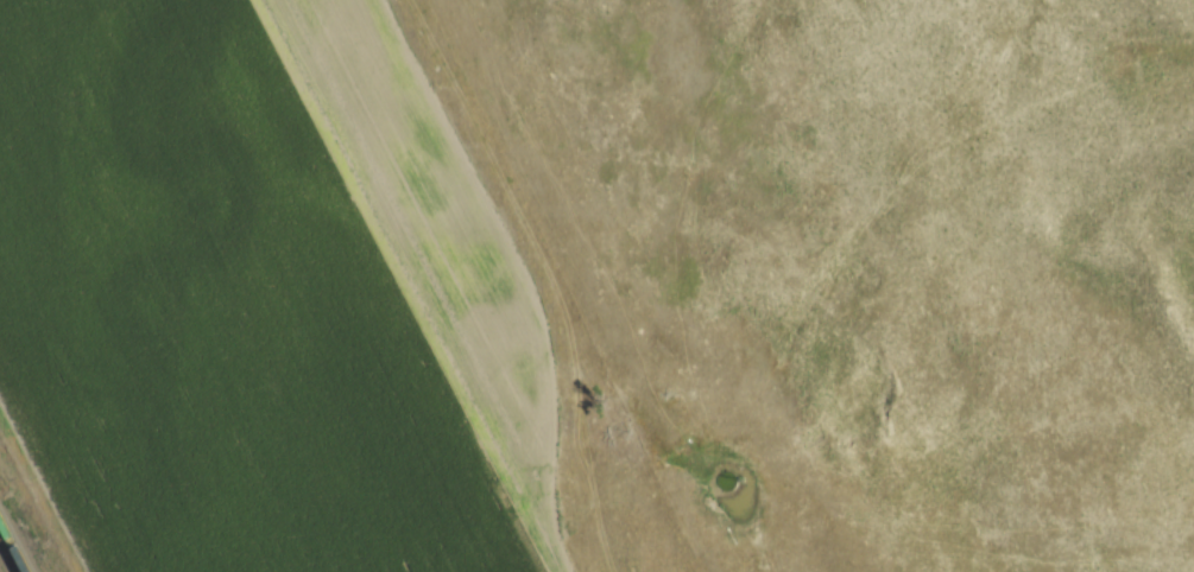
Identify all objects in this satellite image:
crop: (266, 297)
building: (25, 421)
railway: (13, 546)
railway: (7, 557)

